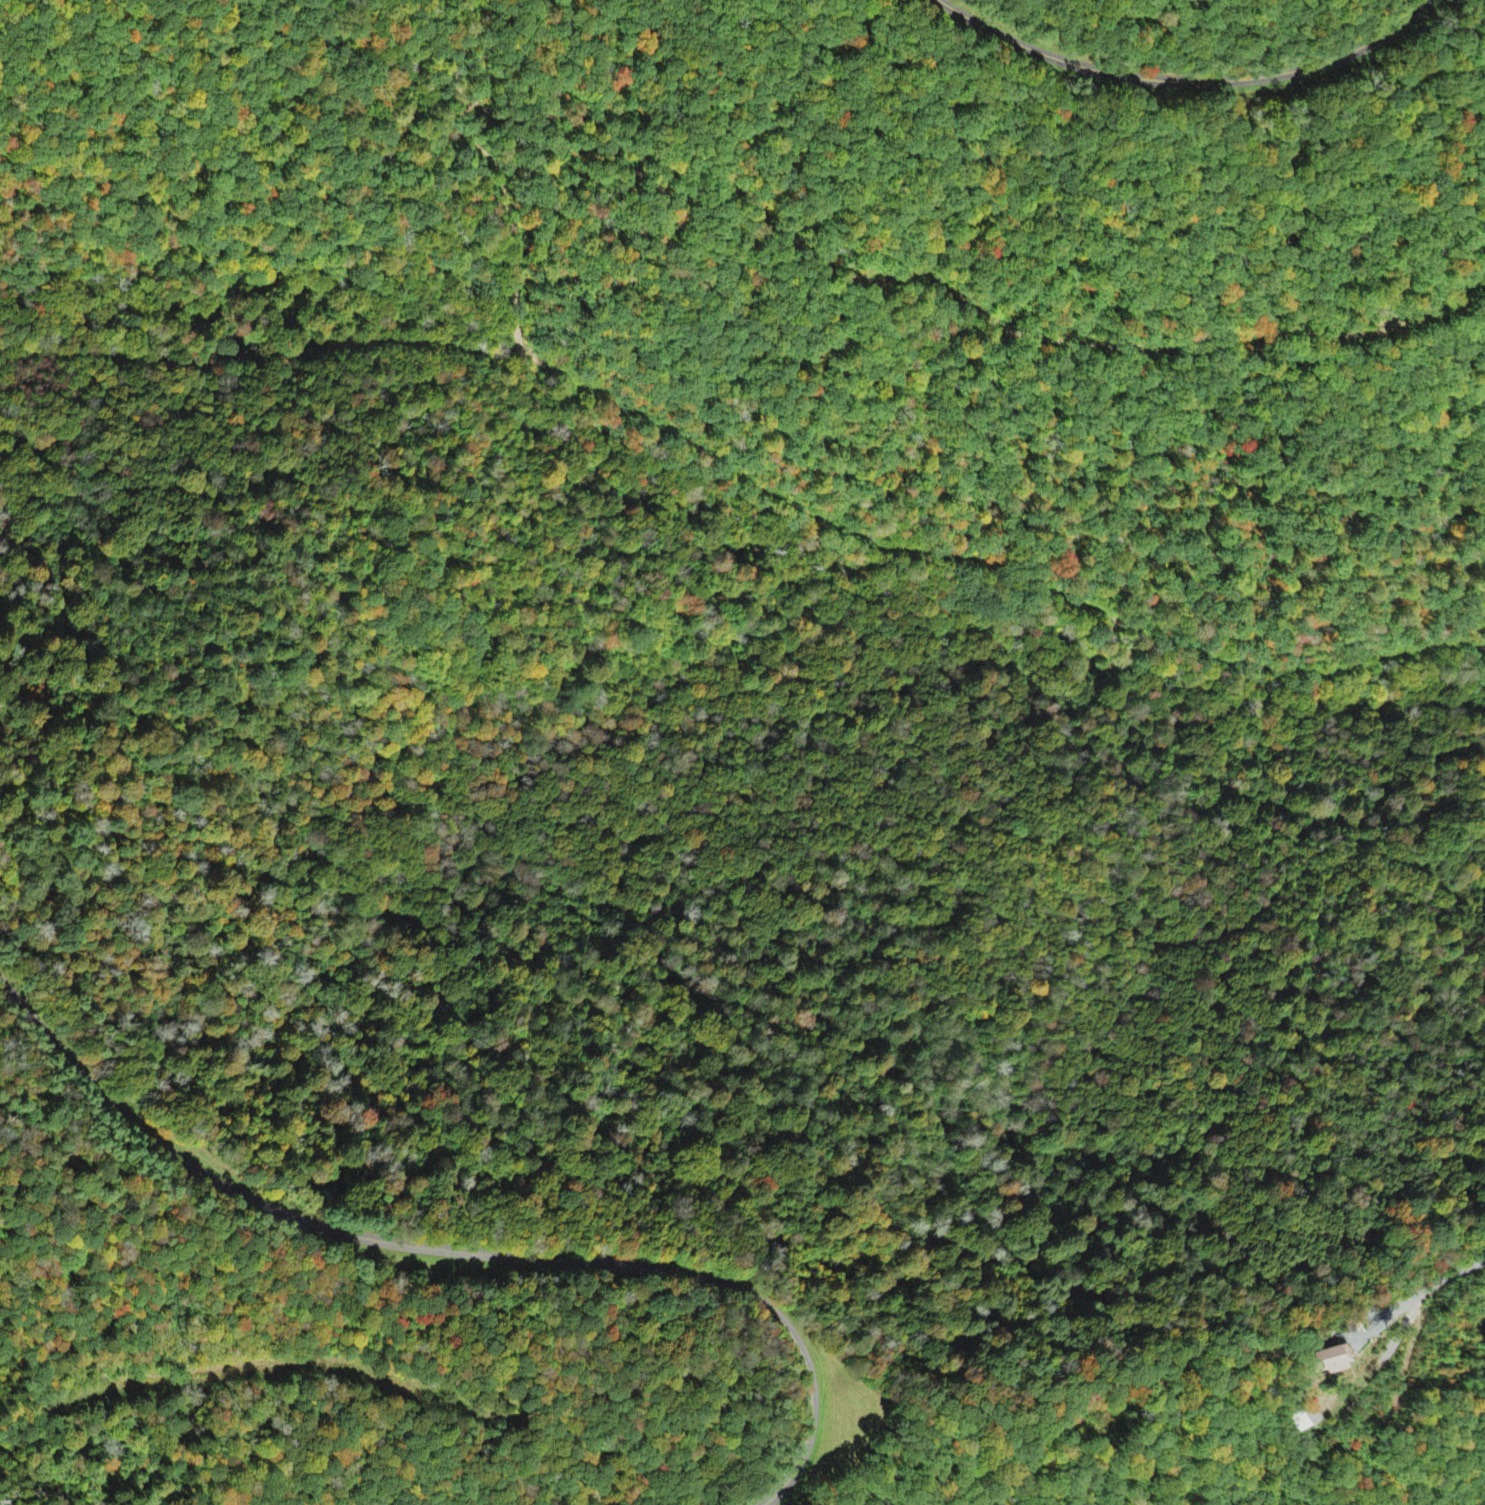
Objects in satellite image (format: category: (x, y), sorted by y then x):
road: (1186, 80)
road: (665, 408)
road: (690, 461)
road: (967, 706)
road: (456, 1250)
building: (1330, 1361)

